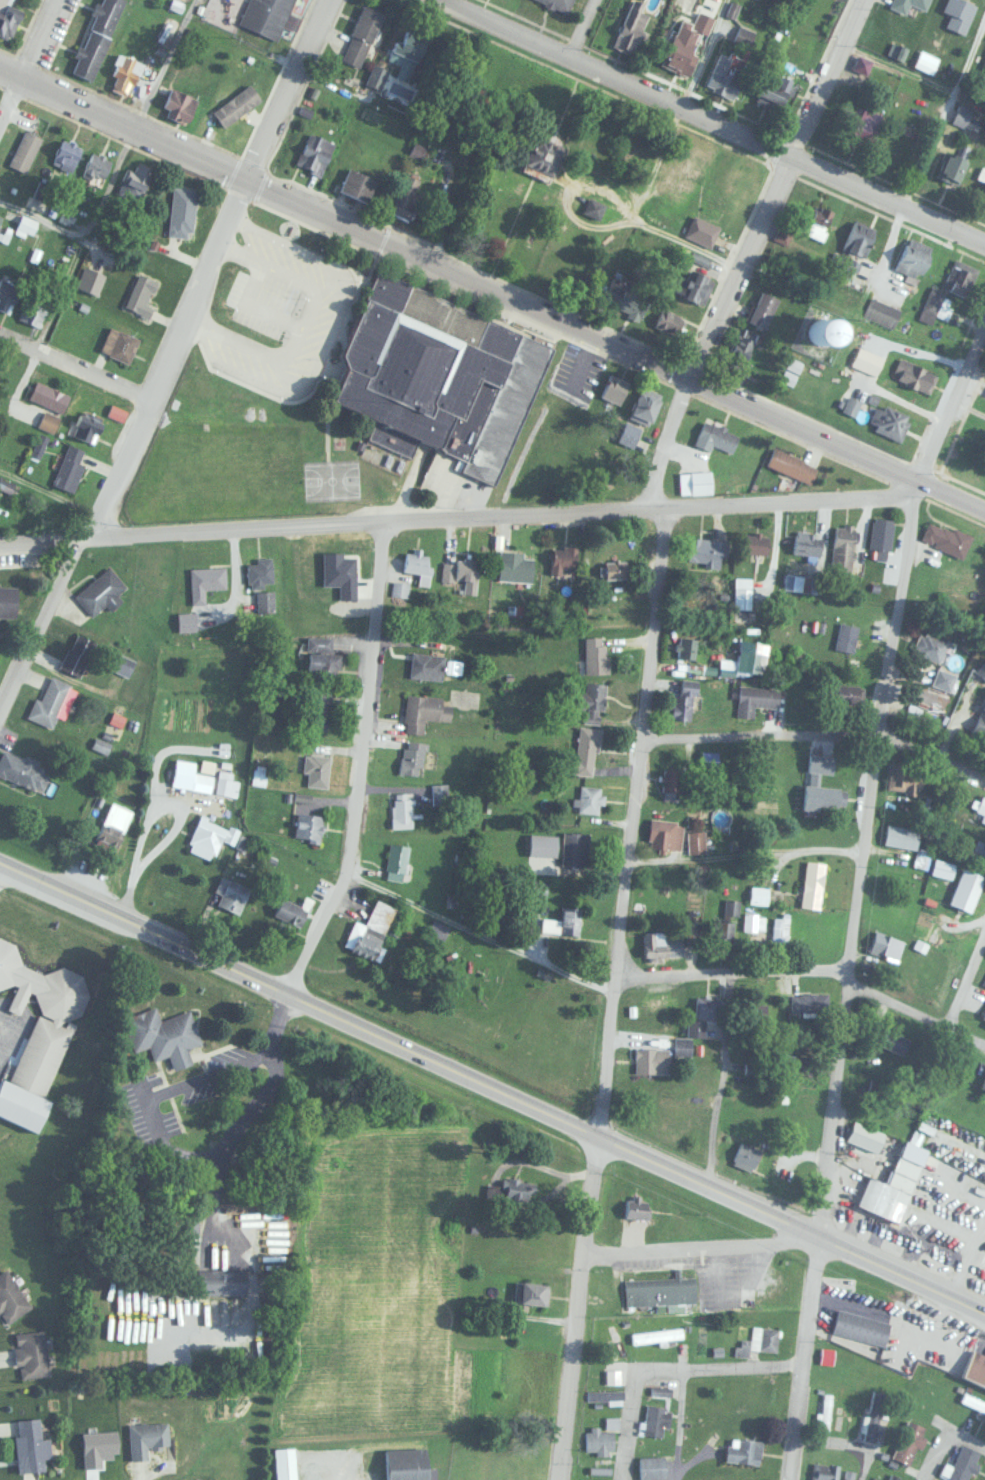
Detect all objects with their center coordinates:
building: (559, 4)
building: (907, 4)
road: (457, 5)
building: (958, 13)
building: (267, 16)
building: (8, 18)
building: (633, 29)
road: (589, 33)
building: (362, 36)
building: (97, 38)
road: (41, 42)
building: (408, 50)
building: (685, 52)
road: (704, 56)
road: (161, 66)
road: (897, 67)
building: (125, 73)
building: (727, 74)
building: (376, 75)
road: (286, 92)
building: (391, 92)
building: (774, 92)
building: (179, 105)
building: (234, 105)
road: (11, 109)
road: (944, 109)
building: (962, 115)
building: (864, 120)
road: (706, 124)
building: (41, 139)
building: (25, 152)
building: (315, 153)
building: (68, 155)
building: (547, 156)
building: (697, 162)
building: (953, 165)
building: (97, 166)
building: (982, 174)
building: (741, 178)
building: (135, 180)
building: (359, 184)
road: (775, 191)
building: (984, 196)
building: (406, 203)
building: (596, 208)
building: (182, 212)
building: (819, 221)
building: (2, 222)
building: (24, 225)
building: (702, 231)
building: (782, 233)
building: (860, 237)
building: (914, 258)
building: (960, 277)
building: (89, 283)
building: (699, 287)
building: (8, 294)
building: (141, 294)
road: (491, 295)
building: (625, 300)
building: (935, 306)
building: (764, 309)
building: (32, 310)
building: (882, 312)
parking lot: (276, 315)
building: (673, 319)
building: (825, 330)
building: (119, 344)
building: (744, 348)
building: (869, 361)
road: (75, 370)
building: (914, 375)
building: (441, 377)
building: (615, 389)
road: (947, 394)
building: (49, 396)
building: (649, 405)
building: (852, 406)
building: (47, 421)
building: (890, 421)
building: (87, 428)
building: (716, 437)
road: (663, 445)
road: (129, 450)
building: (792, 465)
building: (69, 468)
park: (220, 470)
park: (329, 477)
building: (696, 483)
road: (905, 489)
road: (49, 494)
road: (449, 521)
building: (881, 532)
building: (947, 537)
building: (758, 542)
building: (806, 543)
building: (842, 547)
building: (705, 550)
building: (562, 558)
building: (417, 565)
building: (515, 566)
building: (618, 567)
building: (259, 570)
building: (329, 570)
building: (461, 572)
building: (803, 580)
building: (205, 581)
building: (100, 591)
building: (742, 594)
building: (263, 602)
building: (9, 603)
building: (186, 621)
building: (845, 636)
building: (932, 645)
building: (686, 646)
building: (78, 652)
building: (595, 653)
building: (751, 660)
building: (122, 663)
building: (324, 663)
building: (852, 664)
building: (425, 665)
building: (982, 668)
building: (944, 678)
building: (684, 697)
building: (755, 698)
building: (49, 701)
building: (593, 701)
building: (424, 711)
building: (982, 716)
road: (817, 733)
building: (586, 749)
building: (412, 756)
road: (353, 765)
building: (21, 768)
building: (317, 768)
building: (190, 775)
building: (672, 778)
building: (903, 778)
building: (225, 782)
building: (827, 795)
building: (590, 798)
building: (982, 806)
building: (401, 809)
building: (113, 824)
building: (309, 825)
building: (675, 835)
building: (902, 835)
building: (208, 836)
road: (164, 844)
building: (578, 844)
building: (980, 844)
road: (743, 852)
building: (397, 859)
building: (813, 883)
building: (968, 887)
building: (231, 893)
building: (758, 894)
road: (125, 895)
building: (897, 900)
building: (294, 910)
building: (729, 912)
building: (562, 921)
building: (753, 922)
building: (780, 927)
building: (372, 929)
road: (476, 937)
building: (656, 943)
building: (886, 944)
road: (726, 975)
road: (965, 987)
road: (844, 988)
road: (609, 995)
road: (299, 998)
building: (664, 1000)
building: (810, 1001)
building: (708, 1005)
building: (757, 1010)
building: (983, 1016)
road: (914, 1021)
parking lot: (8, 1029)
building: (37, 1033)
building: (164, 1034)
building: (689, 1035)
building: (894, 1039)
building: (651, 1059)
building: (803, 1063)
road: (720, 1081)
building: (983, 1084)
road: (238, 1108)
building: (859, 1133)
building: (746, 1155)
building: (896, 1183)
building: (521, 1188)
building: (638, 1209)
road: (791, 1224)
road: (692, 1244)
building: (228, 1281)
building: (659, 1290)
building: (533, 1291)
building: (10, 1298)
building: (862, 1326)
building: (655, 1335)
building: (763, 1338)
building: (948, 1345)
building: (31, 1354)
building: (974, 1366)
road: (689, 1375)
building: (603, 1395)
building: (973, 1401)
building: (825, 1410)
building: (872, 1416)
building: (654, 1421)
road: (942, 1434)
building: (147, 1438)
building: (599, 1439)
building: (32, 1445)
building: (905, 1449)
building: (744, 1450)
building: (286, 1463)
building: (963, 1463)
building: (408, 1464)
building: (652, 1467)
building: (824, 1471)
building: (849, 1475)
building: (894, 1477)

